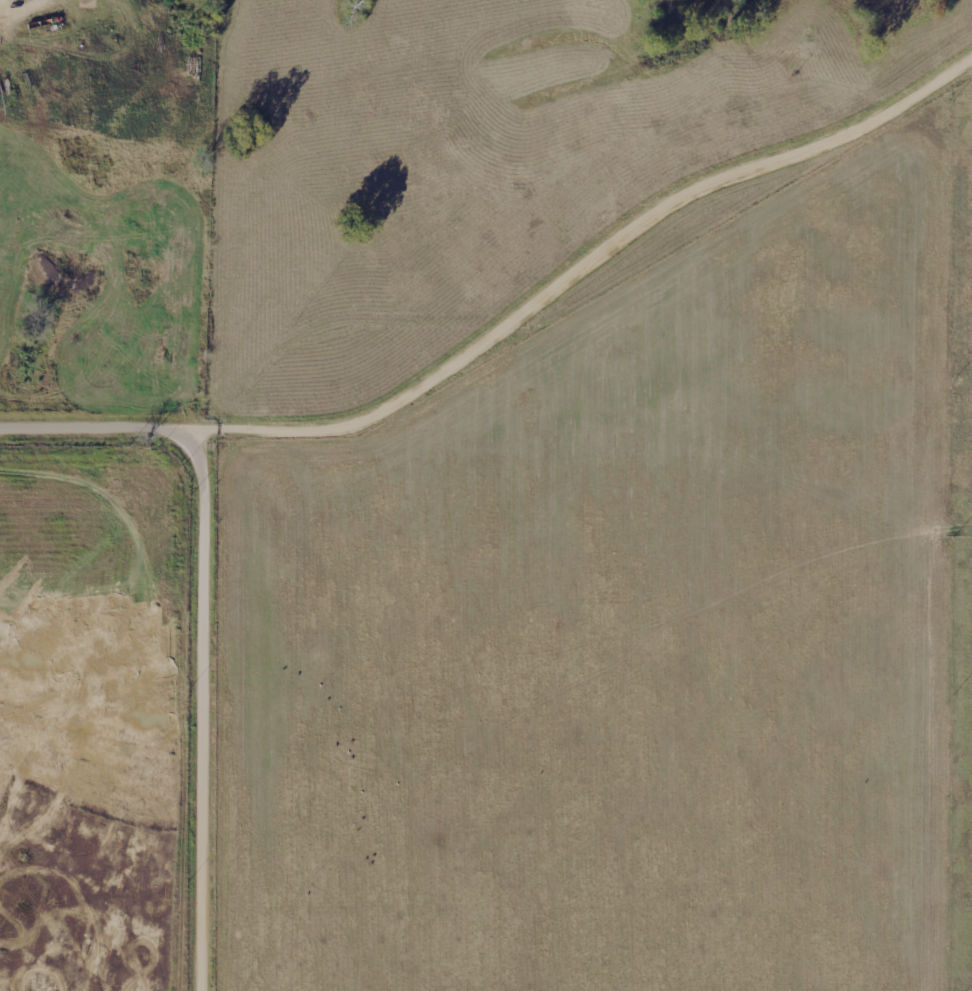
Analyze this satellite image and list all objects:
road: (5, 5)
road: (346, 339)
road: (210, 617)

